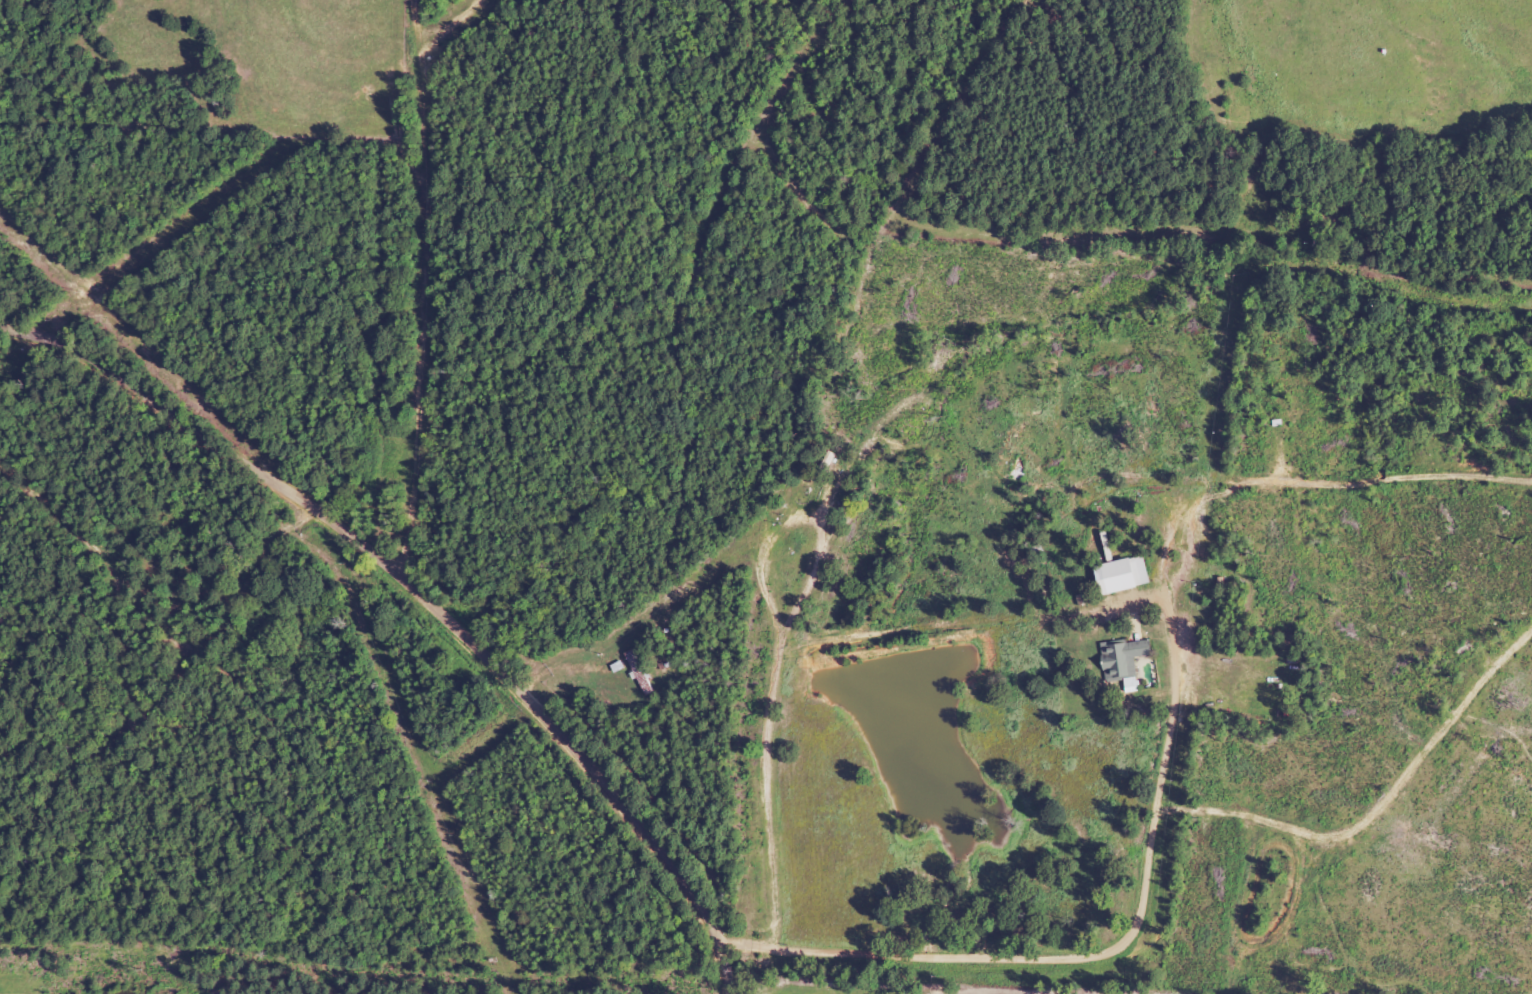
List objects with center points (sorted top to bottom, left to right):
road: (476, 311)
road: (442, 623)

